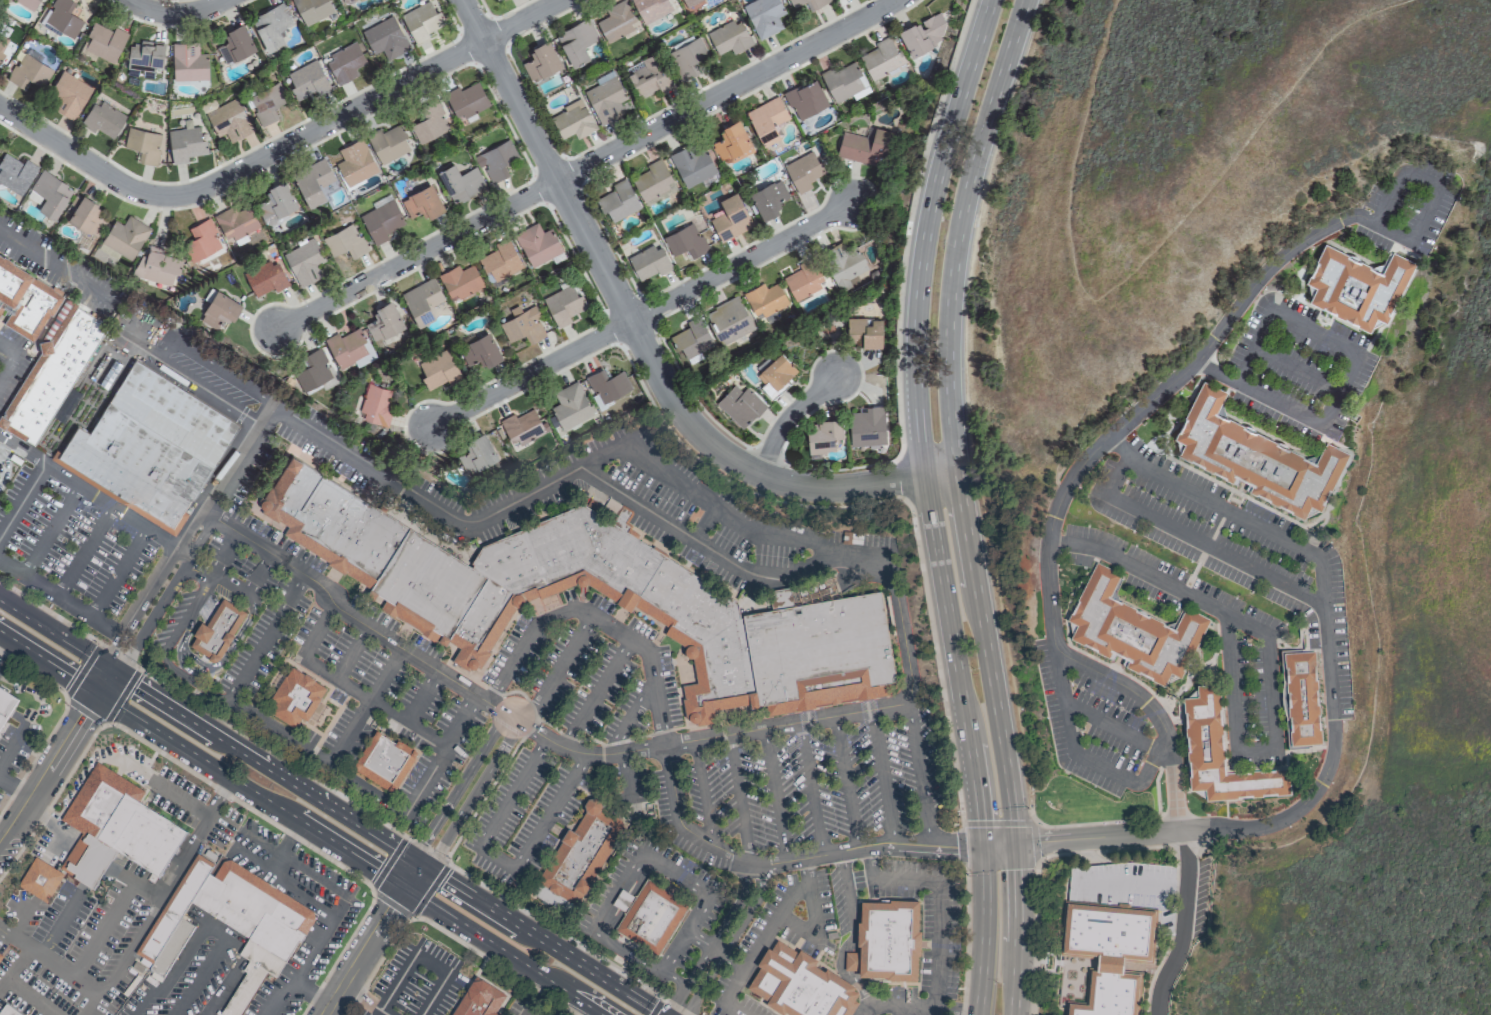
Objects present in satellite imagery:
building: (343, 0)
building: (691, 2)
building: (795, 2)
building: (28, 3)
building: (817, 3)
building: (312, 9)
building: (651, 9)
road: (171, 13)
building: (763, 16)
building: (62, 17)
building: (616, 20)
building: (421, 21)
building: (271, 25)
building: (922, 34)
building: (384, 37)
building: (729, 37)
building: (576, 41)
building: (103, 42)
building: (235, 43)
building: (3, 44)
building: (144, 55)
building: (687, 55)
building: (881, 58)
building: (540, 60)
building: (188, 61)
building: (344, 63)
building: (28, 71)
building: (650, 76)
building: (307, 79)
building: (844, 81)
building: (67, 95)
building: (805, 98)
building: (605, 99)
building: (465, 100)
building: (265, 103)
building: (102, 119)
building: (573, 119)
building: (766, 119)
building: (228, 120)
building: (429, 122)
building: (185, 142)
building: (732, 142)
building: (388, 143)
building: (143, 144)
road: (277, 147)
building: (866, 147)
building: (495, 160)
building: (355, 162)
road: (582, 163)
building: (691, 164)
building: (803, 170)
building: (15, 172)
building: (312, 181)
building: (460, 182)
building: (653, 182)
building: (48, 193)
building: (768, 198)
building: (619, 200)
building: (276, 201)
building: (422, 202)
building: (85, 214)
building: (730, 217)
building: (381, 220)
building: (235, 222)
building: (125, 236)
building: (200, 240)
building: (685, 240)
building: (344, 241)
road: (1301, 242)
building: (537, 244)
building: (500, 260)
road: (742, 260)
road: (1144, 260)
building: (304, 261)
building: (649, 261)
road: (56, 265)
building: (156, 265)
building: (843, 266)
building: (265, 277)
building: (803, 279)
building: (459, 281)
building: (1356, 287)
building: (765, 299)
building: (25, 300)
building: (422, 300)
building: (563, 304)
building: (218, 309)
building: (728, 319)
building: (384, 321)
building: (522, 324)
building: (863, 332)
building: (691, 339)
road: (640, 340)
building: (348, 346)
road: (7, 349)
building: (481, 350)
road: (7, 365)
building: (313, 369)
building: (438, 369)
road: (1296, 369)
road: (220, 371)
building: (50, 372)
road: (528, 373)
building: (775, 374)
road: (1347, 374)
road: (191, 381)
building: (607, 384)
building: (375, 404)
building: (739, 404)
building: (570, 405)
road: (788, 415)
building: (866, 426)
building: (518, 429)
building: (823, 434)
building: (148, 447)
building: (477, 453)
road: (640, 453)
building: (1255, 458)
road: (228, 478)
road: (21, 498)
road: (931, 504)
road: (962, 504)
road: (125, 515)
road: (1261, 527)
road: (51, 530)
road: (1197, 541)
road: (702, 545)
road: (87, 553)
road: (119, 573)
road: (258, 573)
building: (467, 589)
road: (201, 592)
road: (61, 598)
road: (140, 605)
road: (154, 614)
road: (596, 619)
building: (219, 631)
road: (318, 631)
building: (1132, 631)
road: (54, 636)
road: (265, 637)
road: (2, 638)
road: (352, 653)
road: (1268, 658)
road: (48, 662)
parking lot: (562, 665)
road: (205, 669)
road: (82, 670)
road: (558, 670)
traffic signals: (109, 671)
road: (34, 673)
road: (103, 682)
traffic signals: (97, 693)
road: (597, 693)
road: (121, 696)
road: (421, 697)
building: (298, 698)
building: (1301, 699)
road: (364, 704)
road: (373, 704)
building: (6, 705)
road: (84, 711)
road: (205, 711)
road: (633, 715)
road: (26, 716)
road: (1152, 716)
road: (1110, 726)
road: (529, 727)
road: (277, 731)
road: (443, 754)
building: (1220, 755)
building: (385, 762)
road: (264, 768)
road: (50, 769)
road: (919, 774)
road: (881, 776)
road: (626, 779)
road: (846, 781)
road: (458, 787)
road: (367, 788)
road: (811, 788)
road: (250, 790)
road: (15, 791)
road: (703, 791)
road: (513, 793)
road: (774, 795)
road: (473, 796)
road: (221, 797)
road: (740, 798)
road: (73, 803)
road: (241, 804)
road: (552, 812)
road: (44, 814)
road: (224, 823)
road: (681, 823)
road: (998, 823)
building: (115, 828)
road: (291, 839)
road: (1035, 842)
road: (866, 845)
traffic signals: (984, 845)
traffic signals: (1013, 845)
road: (963, 848)
road: (184, 853)
building: (582, 853)
road: (432, 856)
road: (498, 859)
road: (869, 862)
road: (389, 863)
traffic signals: (419, 867)
road: (412, 876)
road: (906, 879)
building: (40, 880)
road: (142, 882)
road: (283, 884)
road: (1131, 884)
traffic signals: (405, 886)
road: (429, 891)
road: (706, 893)
road: (392, 905)
road: (813, 915)
building: (653, 916)
road: (24, 921)
road: (60, 921)
road: (1038, 921)
building: (229, 923)
road: (1183, 925)
road: (104, 929)
road: (853, 929)
road: (698, 939)
road: (535, 940)
road: (715, 940)
road: (730, 940)
road: (760, 940)
road: (570, 941)
building: (889, 941)
road: (966, 944)
road: (937, 945)
road: (365, 950)
road: (503, 950)
building: (1109, 953)
road: (306, 956)
building: (0, 957)
road: (129, 957)
road: (49, 962)
road: (494, 963)
road: (432, 964)
road: (15, 967)
road: (178, 967)
road: (206, 973)
road: (674, 979)
road: (399, 983)
building: (800, 986)
road: (225, 989)
road: (435, 994)
road: (30, 996)
road: (362, 999)
building: (478, 999)
road: (656, 1007)
road: (902, 1007)
road: (732, 1009)
road: (865, 1010)
building: (7, 1011)
road: (958, 1011)
road: (383, 1013)
road: (529, 1014)

